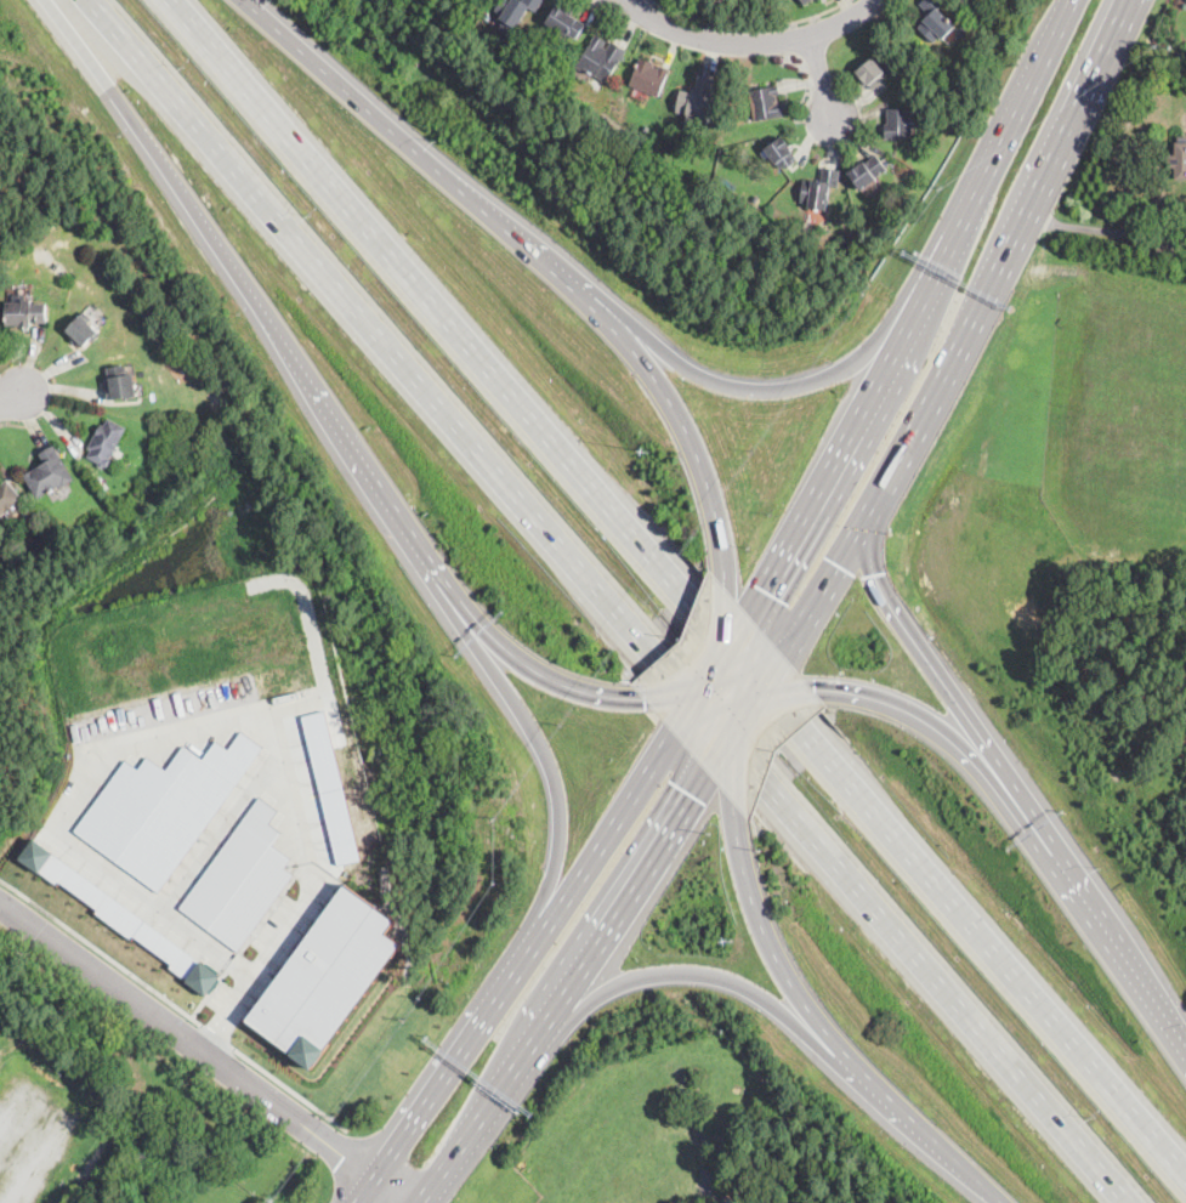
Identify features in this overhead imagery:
road: (622, 1)
building: (805, 1)
building: (516, 10)
building: (935, 21)
building: (566, 22)
road: (750, 28)
building: (961, 30)
road: (748, 44)
building: (601, 58)
building: (873, 74)
building: (648, 78)
road: (823, 81)
building: (696, 100)
building: (765, 102)
building: (898, 124)
road: (1062, 149)
building: (781, 153)
building: (1179, 159)
building: (868, 171)
building: (819, 189)
building: (840, 193)
road: (1099, 231)
building: (1163, 249)
road: (543, 257)
building: (857, 262)
road: (251, 294)
road: (914, 308)
building: (25, 313)
building: (83, 329)
building: (209, 371)
building: (120, 382)
road: (784, 388)
road: (11, 399)
road: (11, 420)
building: (104, 442)
road: (896, 467)
building: (49, 473)
building: (137, 496)
building: (10, 501)
traffic signals: (840, 566)
traffic signals: (874, 573)
road: (675, 588)
traffic signals: (761, 588)
road: (609, 603)
road: (710, 670)
road: (535, 671)
road: (727, 681)
road: (723, 682)
road: (946, 687)
traffic signals: (821, 691)
traffic signals: (643, 699)
road: (742, 702)
road: (755, 707)
road: (736, 708)
road: (950, 740)
road: (108, 753)
road: (555, 781)
building: (327, 785)
traffic signals: (698, 799)
building: (164, 806)
road: (220, 829)
building: (240, 879)
building: (121, 917)
road: (771, 941)
road: (278, 947)
road: (1118, 949)
road: (526, 954)
road: (669, 974)
building: (328, 978)
road: (567, 991)
road: (174, 1001)
road: (217, 1032)
road: (188, 1039)
road: (924, 1133)
road: (365, 1190)
road: (393, 1190)

